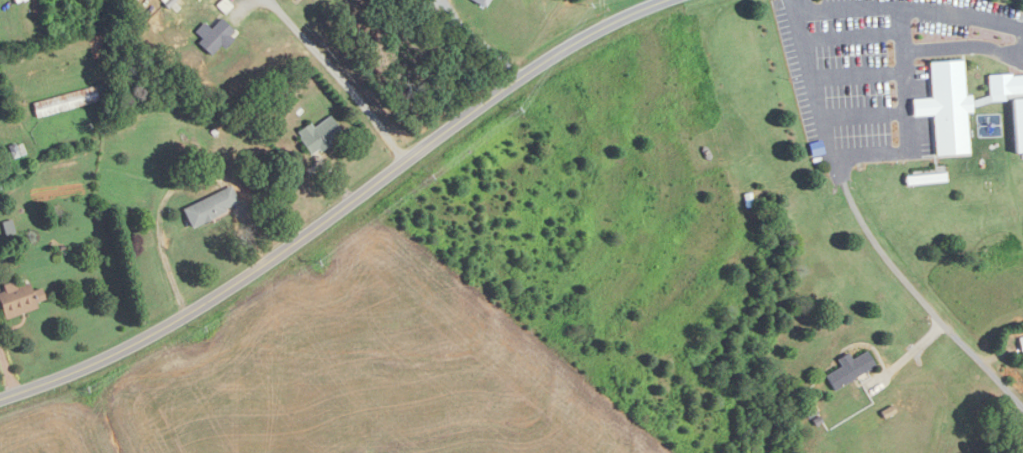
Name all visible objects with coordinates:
building: (296, 0)
building: (477, 3)
road: (906, 8)
building: (214, 36)
road: (481, 40)
road: (332, 67)
building: (65, 102)
building: (965, 106)
road: (905, 115)
building: (318, 134)
road: (837, 172)
road: (179, 181)
building: (211, 207)
road: (335, 208)
building: (17, 300)
building: (1021, 344)
road: (908, 354)
building: (850, 369)

